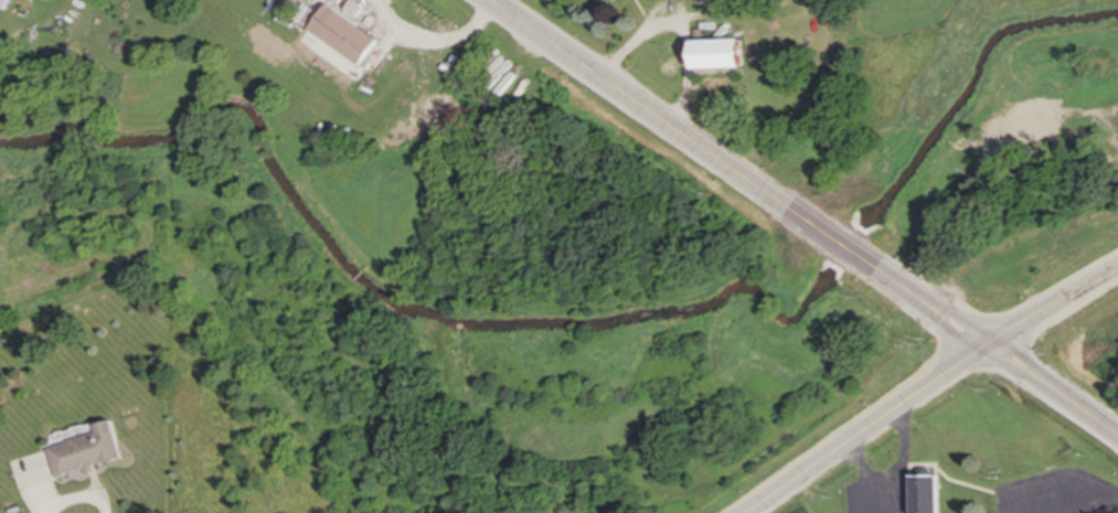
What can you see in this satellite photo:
building: (350, 36)
road: (430, 39)
building: (840, 40)
building: (732, 56)
road: (677, 130)
road: (1018, 330)
road: (991, 348)
building: (92, 451)
road: (834, 453)
road: (898, 457)
road: (863, 479)
building: (920, 493)
road: (83, 496)
road: (1095, 504)

